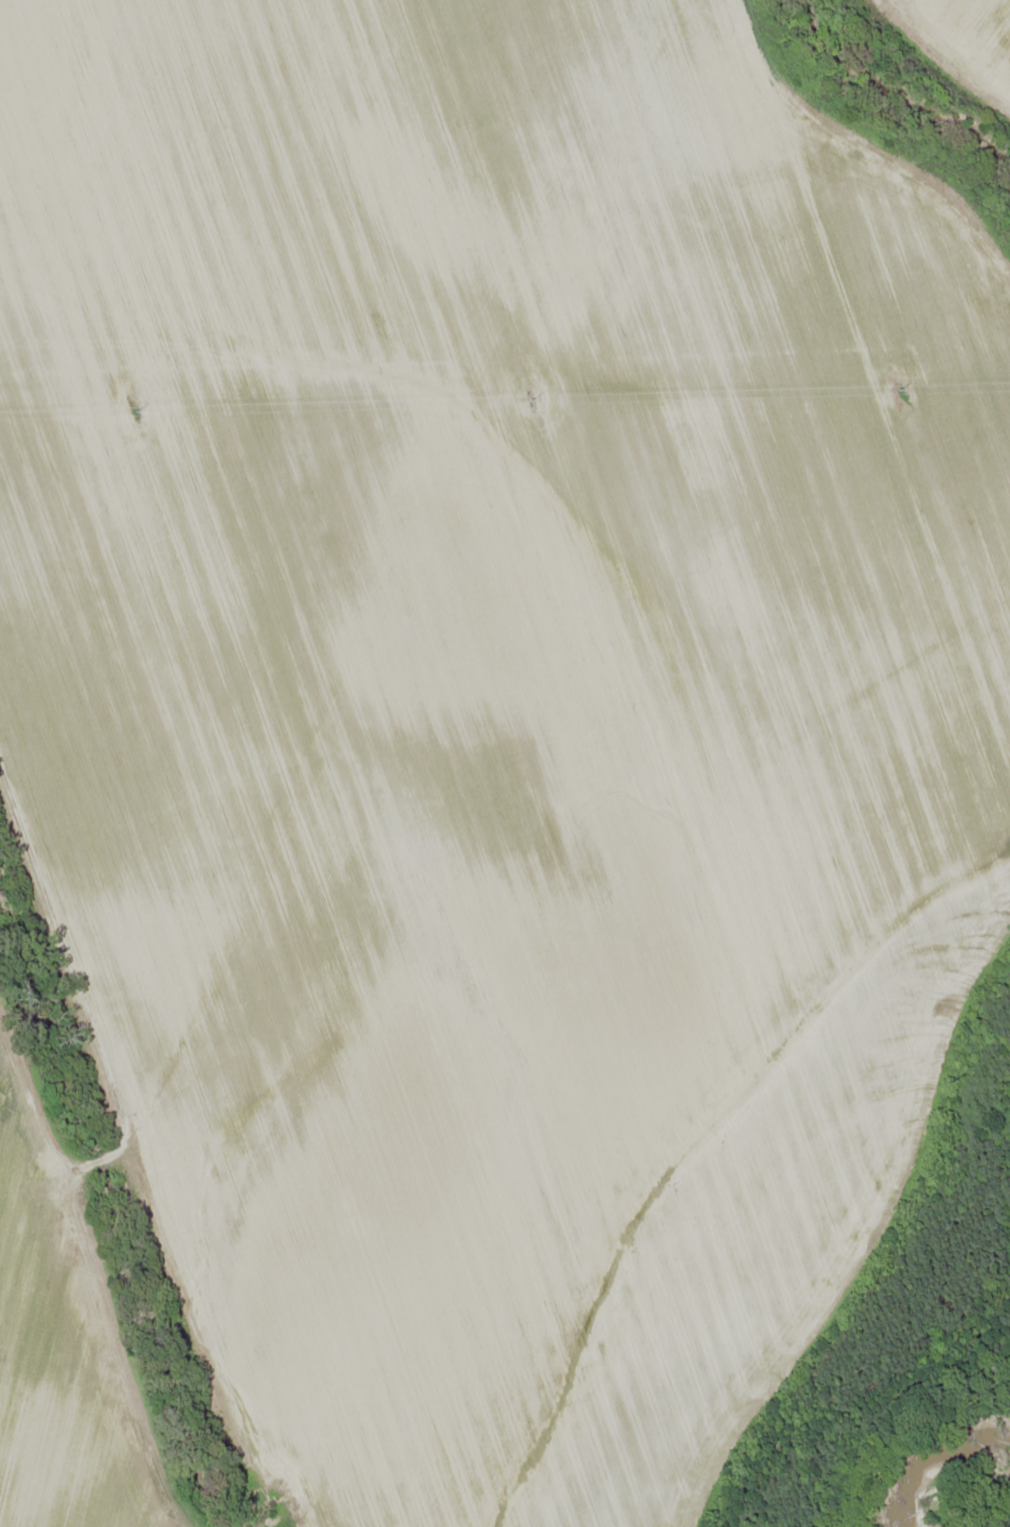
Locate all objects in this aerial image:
river: (945, 1463)

